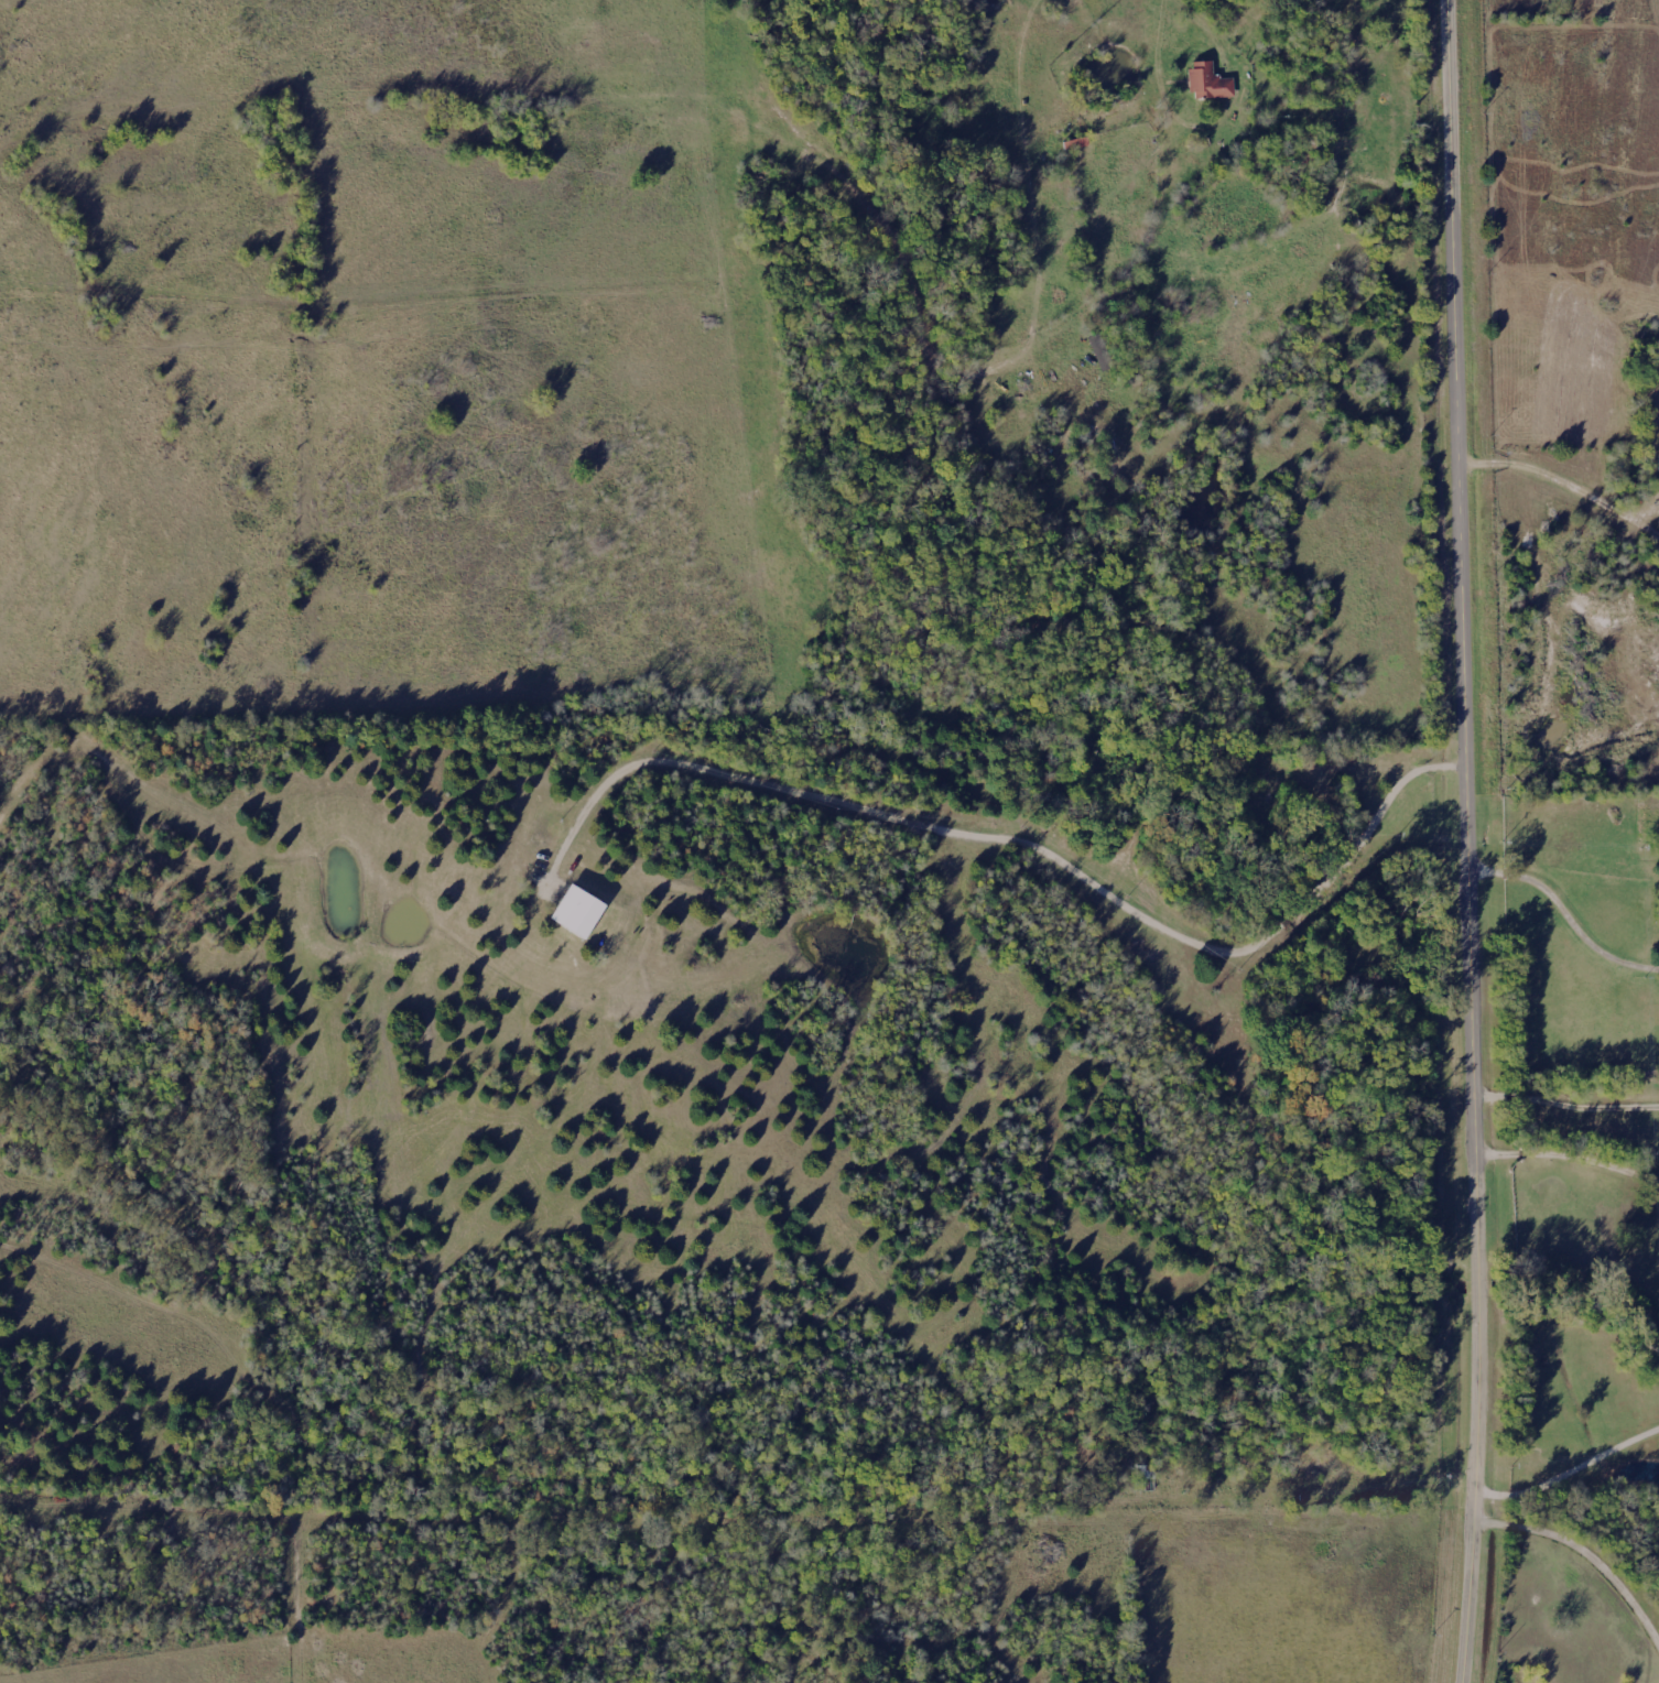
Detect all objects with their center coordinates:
road: (1158, 42)
building: (1203, 85)
building: (1102, 355)
road: (1476, 841)
road: (1039, 845)
road: (1571, 902)
building: (581, 912)
road: (1570, 1106)
road: (1572, 1145)
road: (1572, 1470)
road: (1587, 1554)

